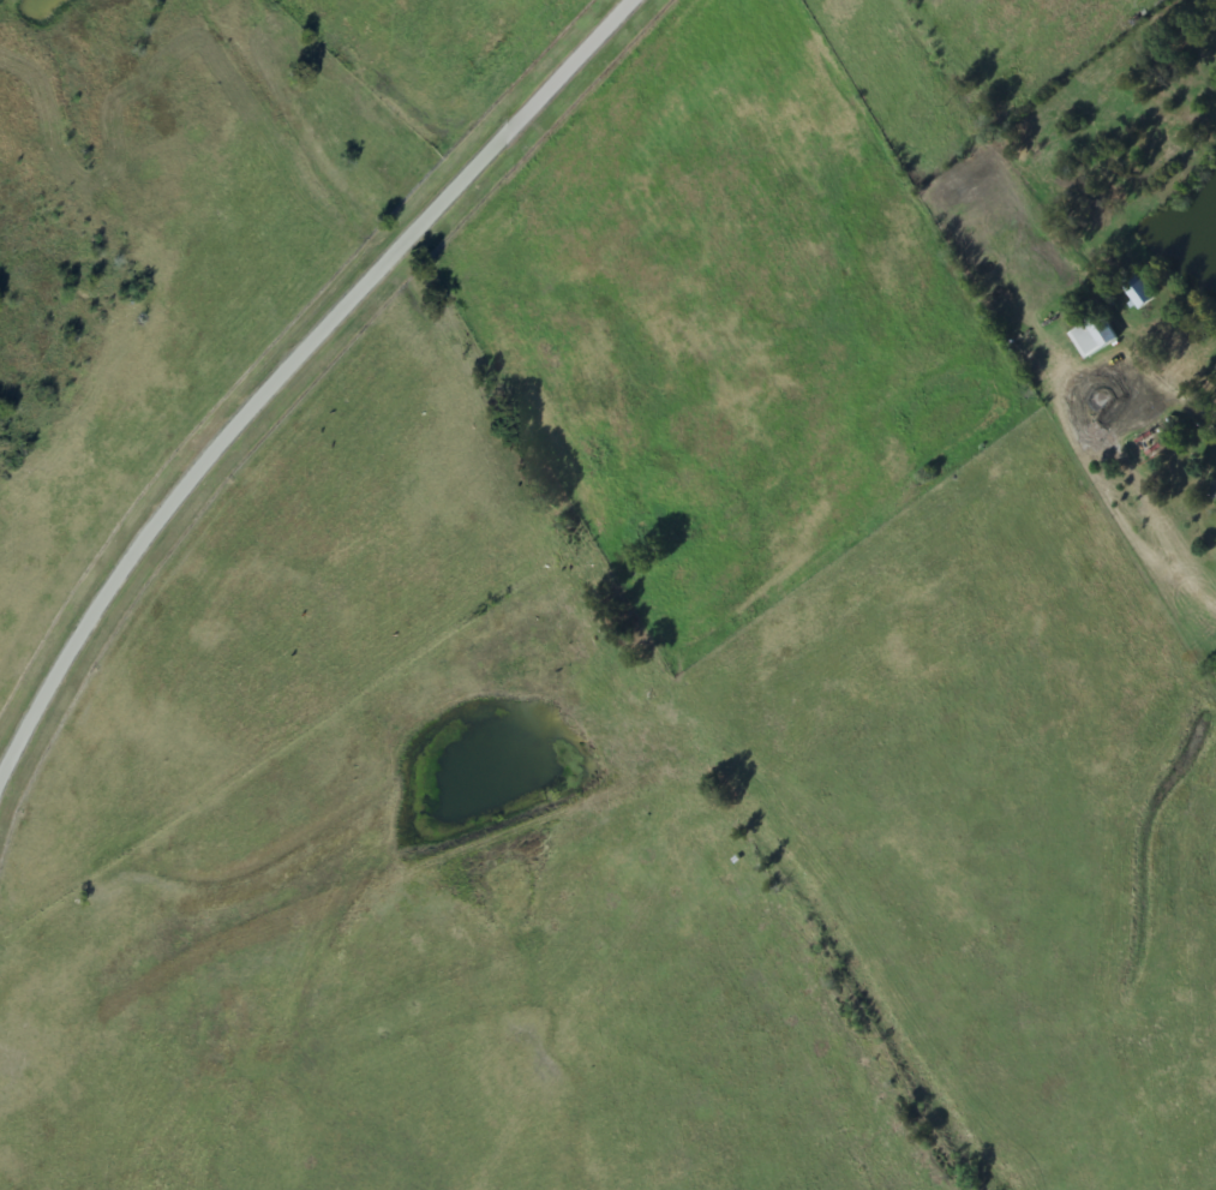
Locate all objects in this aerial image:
building: (1137, 293)
building: (1094, 337)
road: (289, 366)

